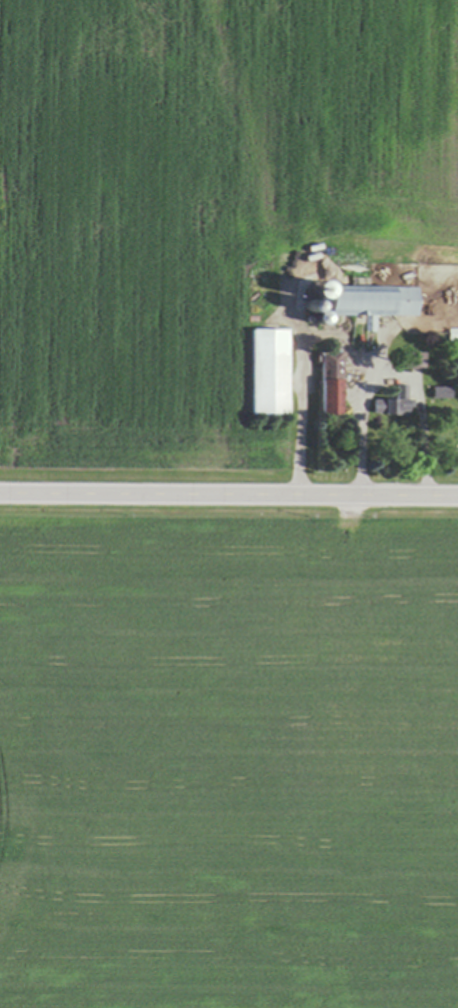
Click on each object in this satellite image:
crop: (196, 202)
building: (368, 301)
building: (452, 333)
road: (327, 342)
building: (412, 360)
building: (266, 371)
building: (328, 382)
building: (438, 391)
building: (386, 405)
road: (228, 497)
crop: (228, 761)

